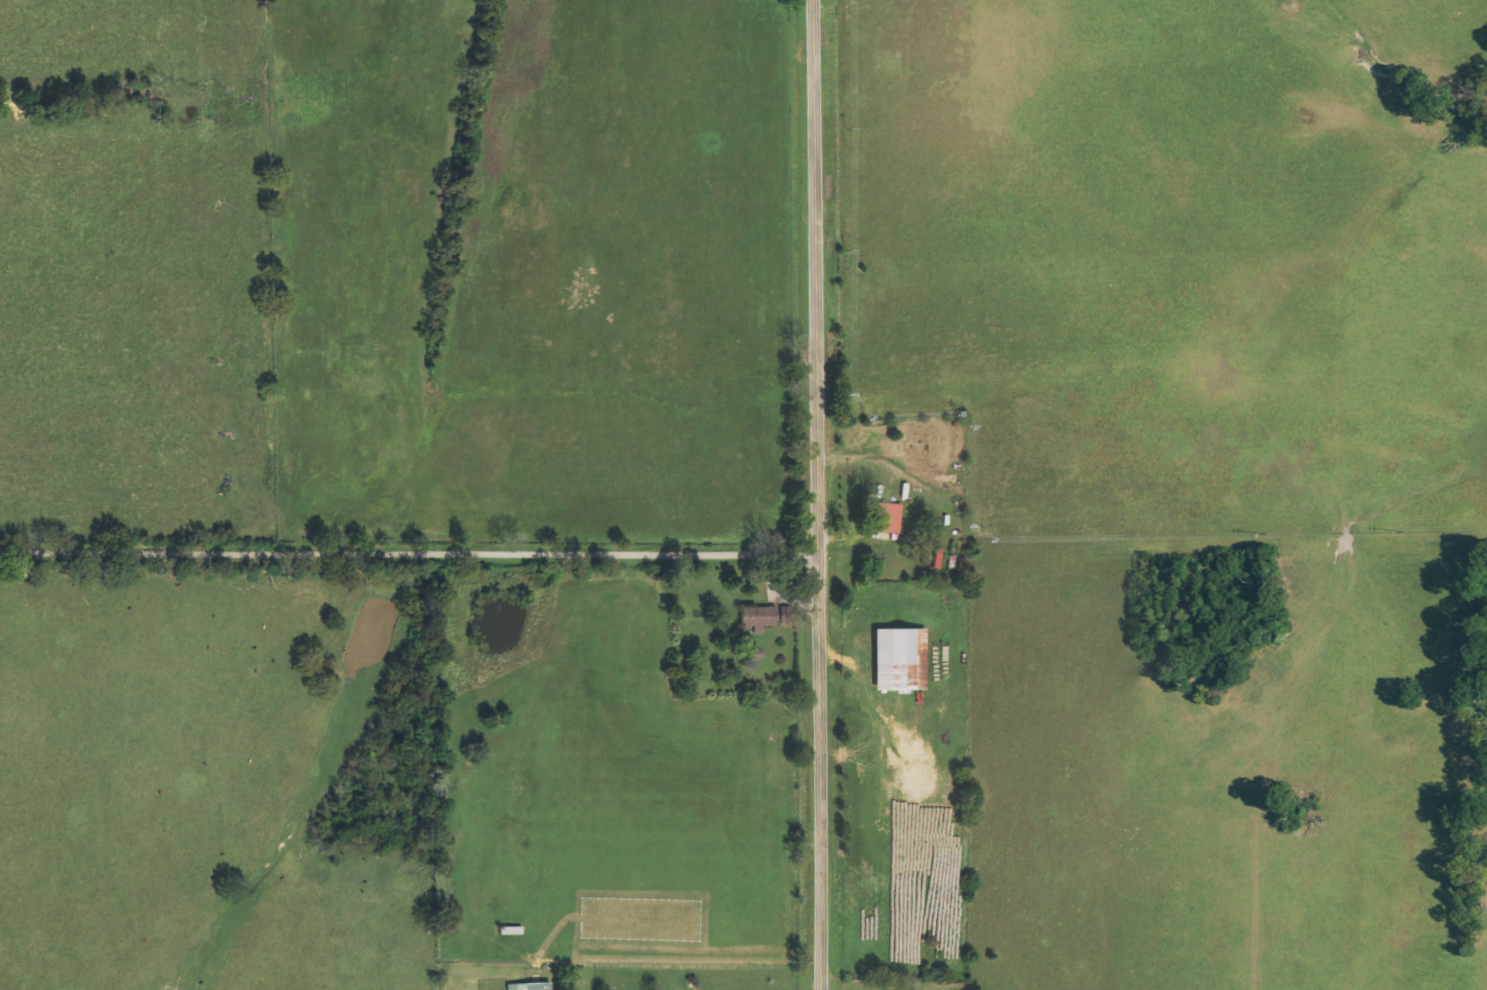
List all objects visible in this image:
road: (816, 495)
building: (893, 519)
road: (408, 554)
building: (761, 618)
building: (901, 659)
building: (531, 986)

